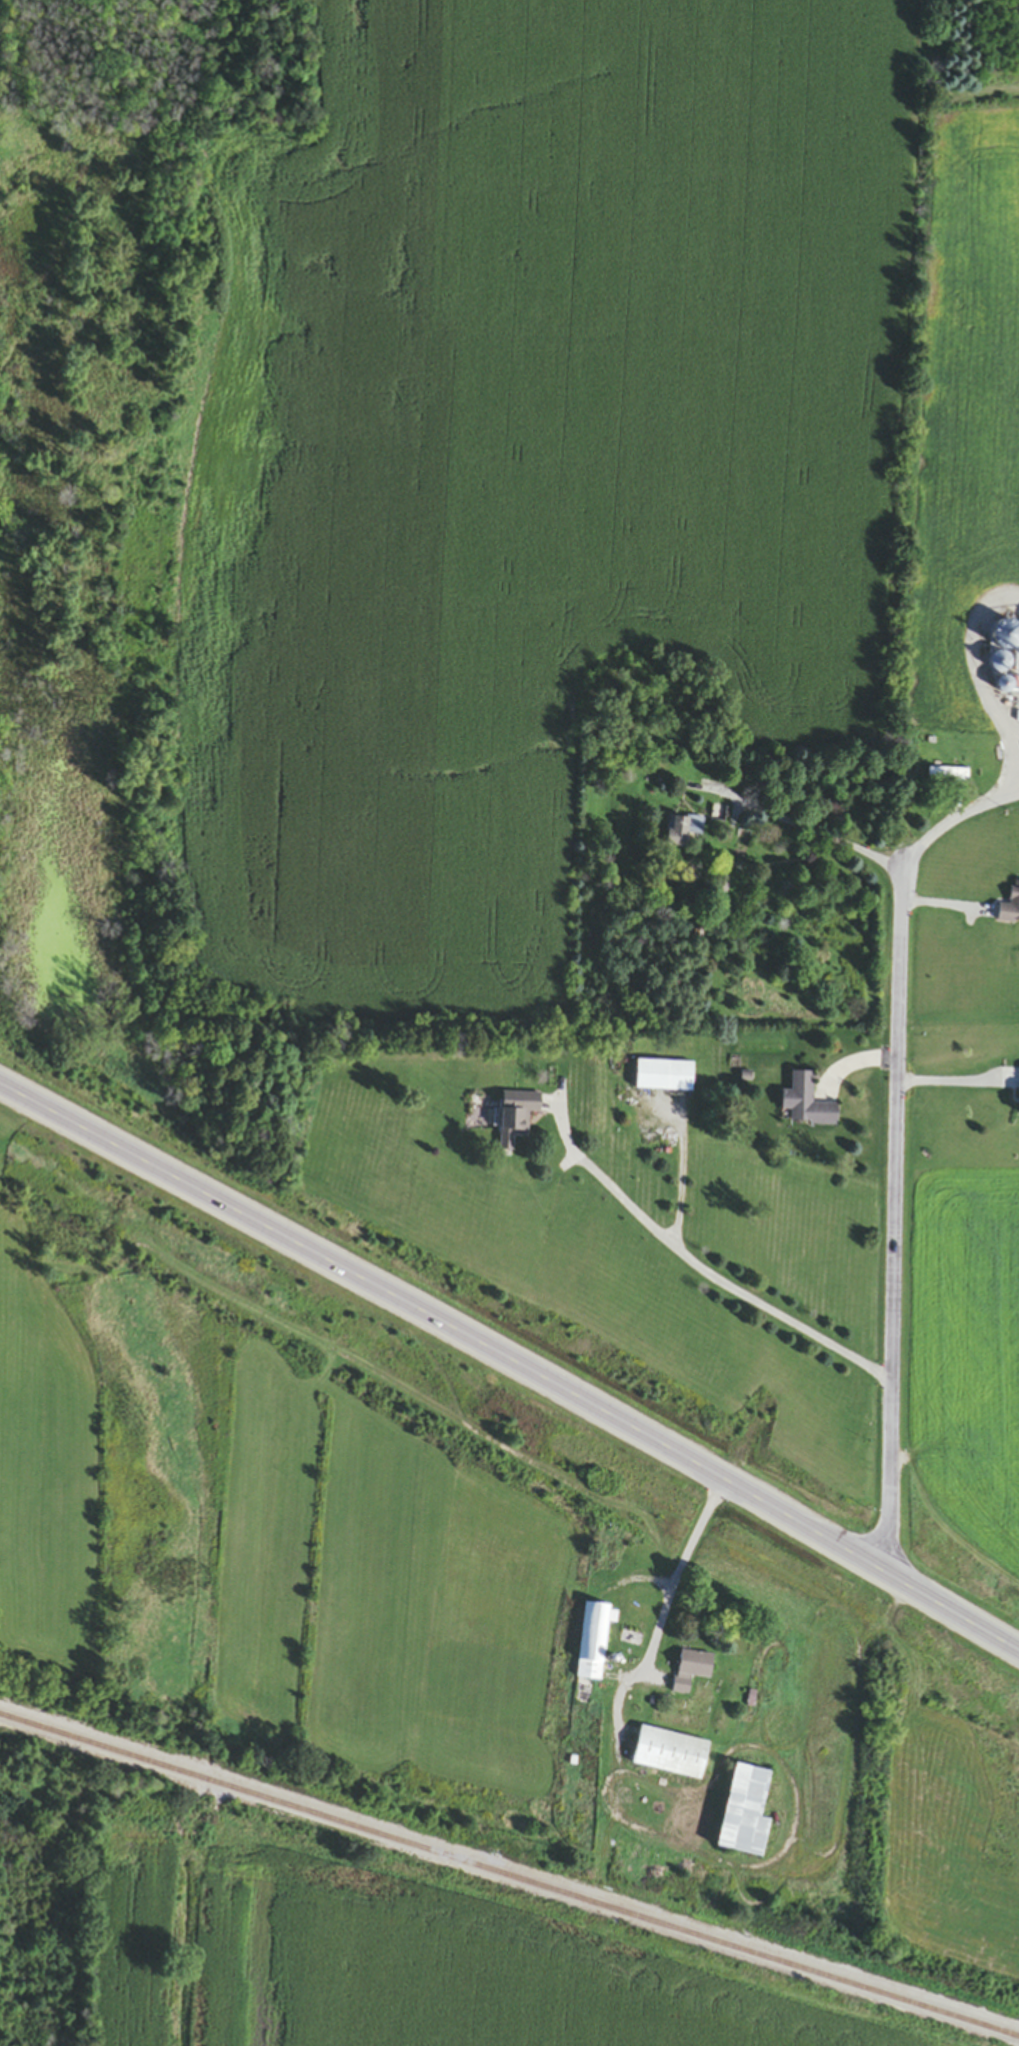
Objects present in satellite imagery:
building: (948, 776)
road: (953, 824)
building: (683, 832)
road: (807, 832)
building: (1010, 910)
building: (664, 1077)
road: (954, 1086)
building: (806, 1104)
building: (516, 1117)
road: (894, 1222)
road: (699, 1270)
road: (511, 1364)
building: (593, 1642)
road: (649, 1664)
building: (692, 1670)
building: (670, 1755)
building: (745, 1814)
railway: (509, 1878)
road: (603, 1954)

